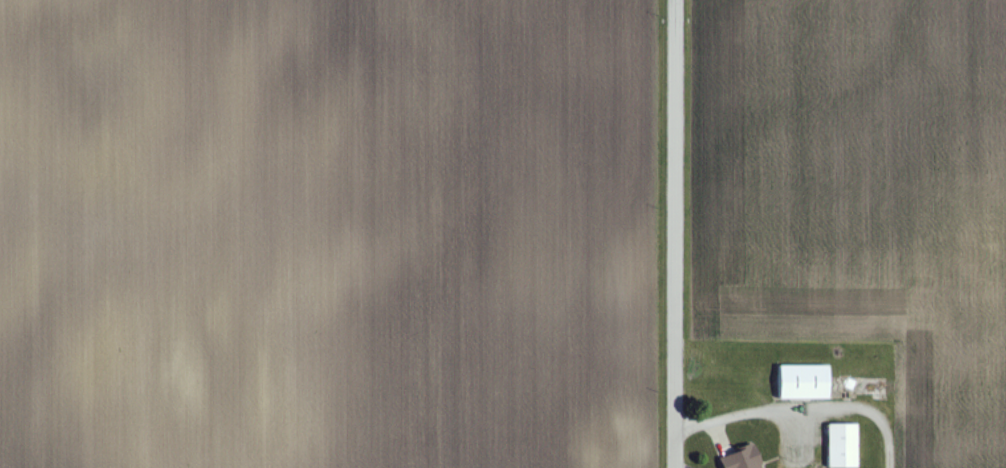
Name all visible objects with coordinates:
road: (677, 233)
building: (806, 382)
road: (804, 407)
building: (845, 446)

